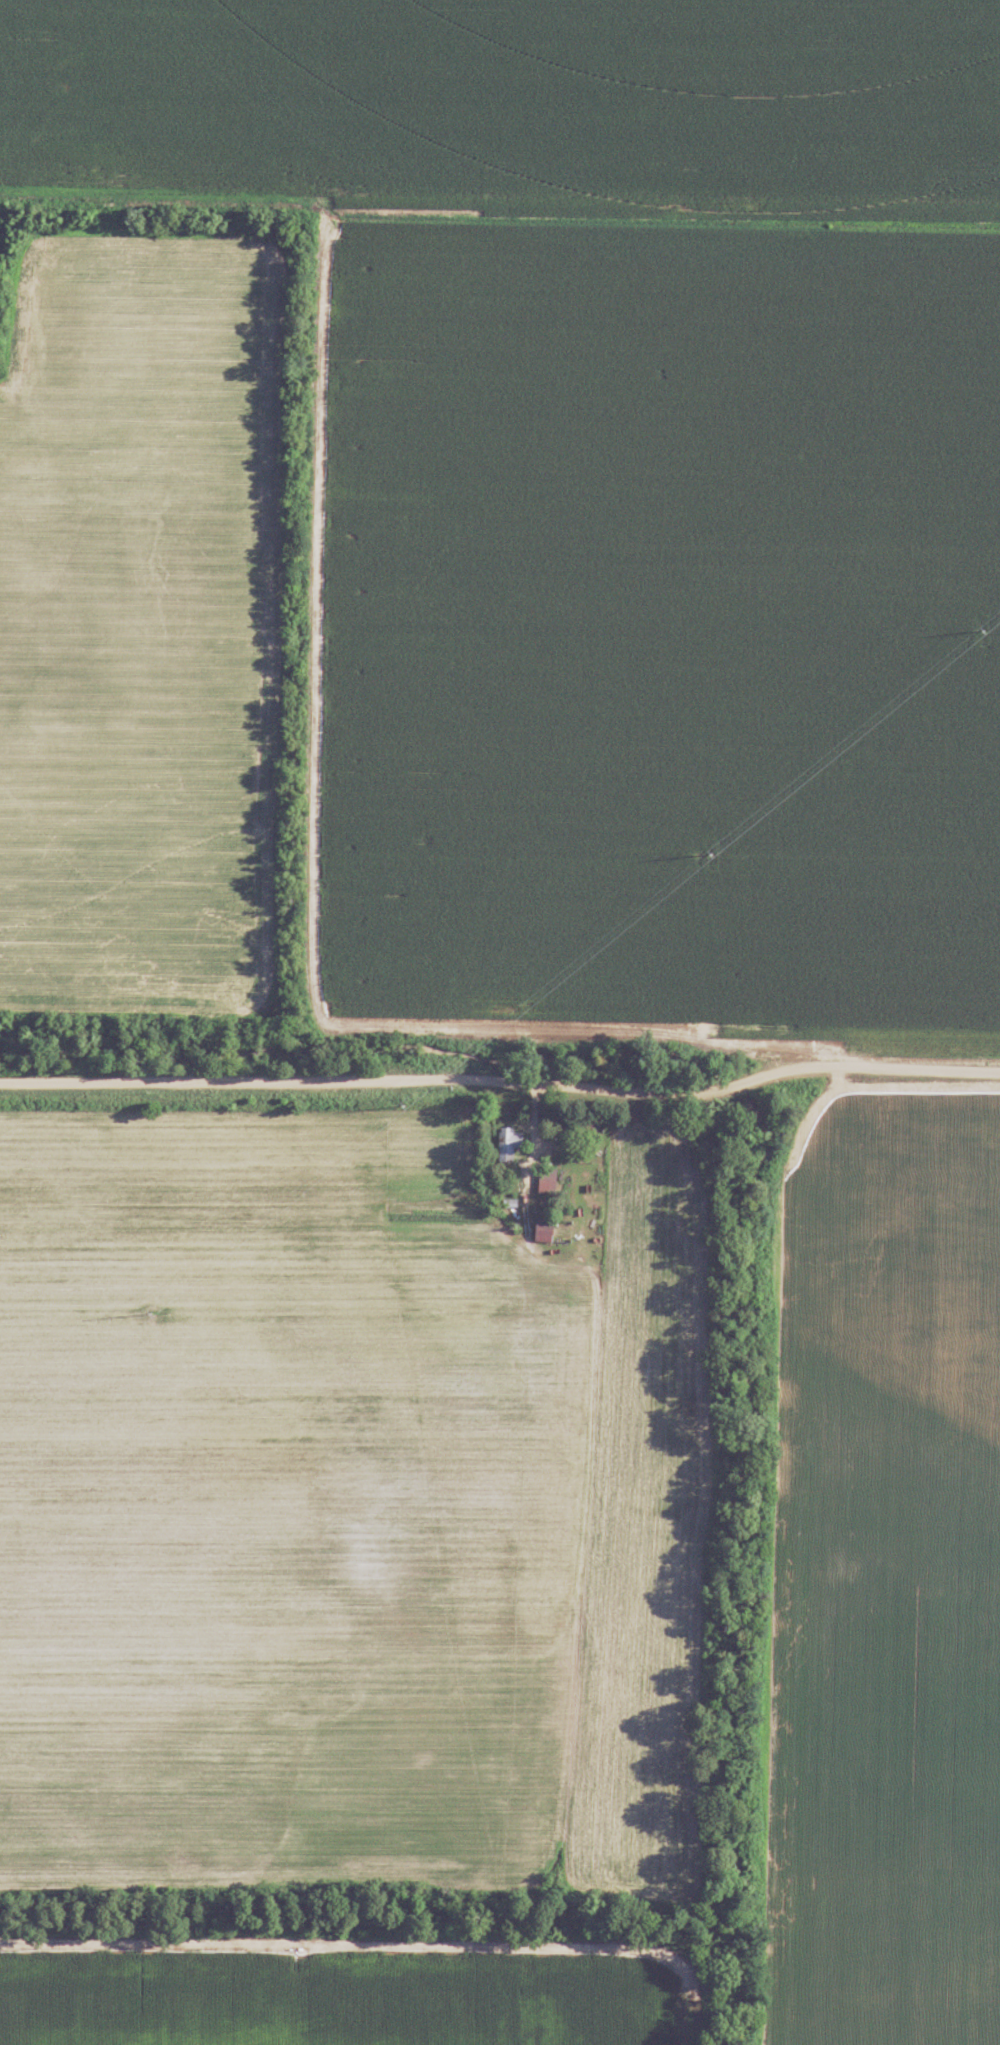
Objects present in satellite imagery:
power tower: (980, 629)
power tower: (710, 852)
road: (501, 1081)
power tower: (404, 1104)
power tower: (151, 1312)

